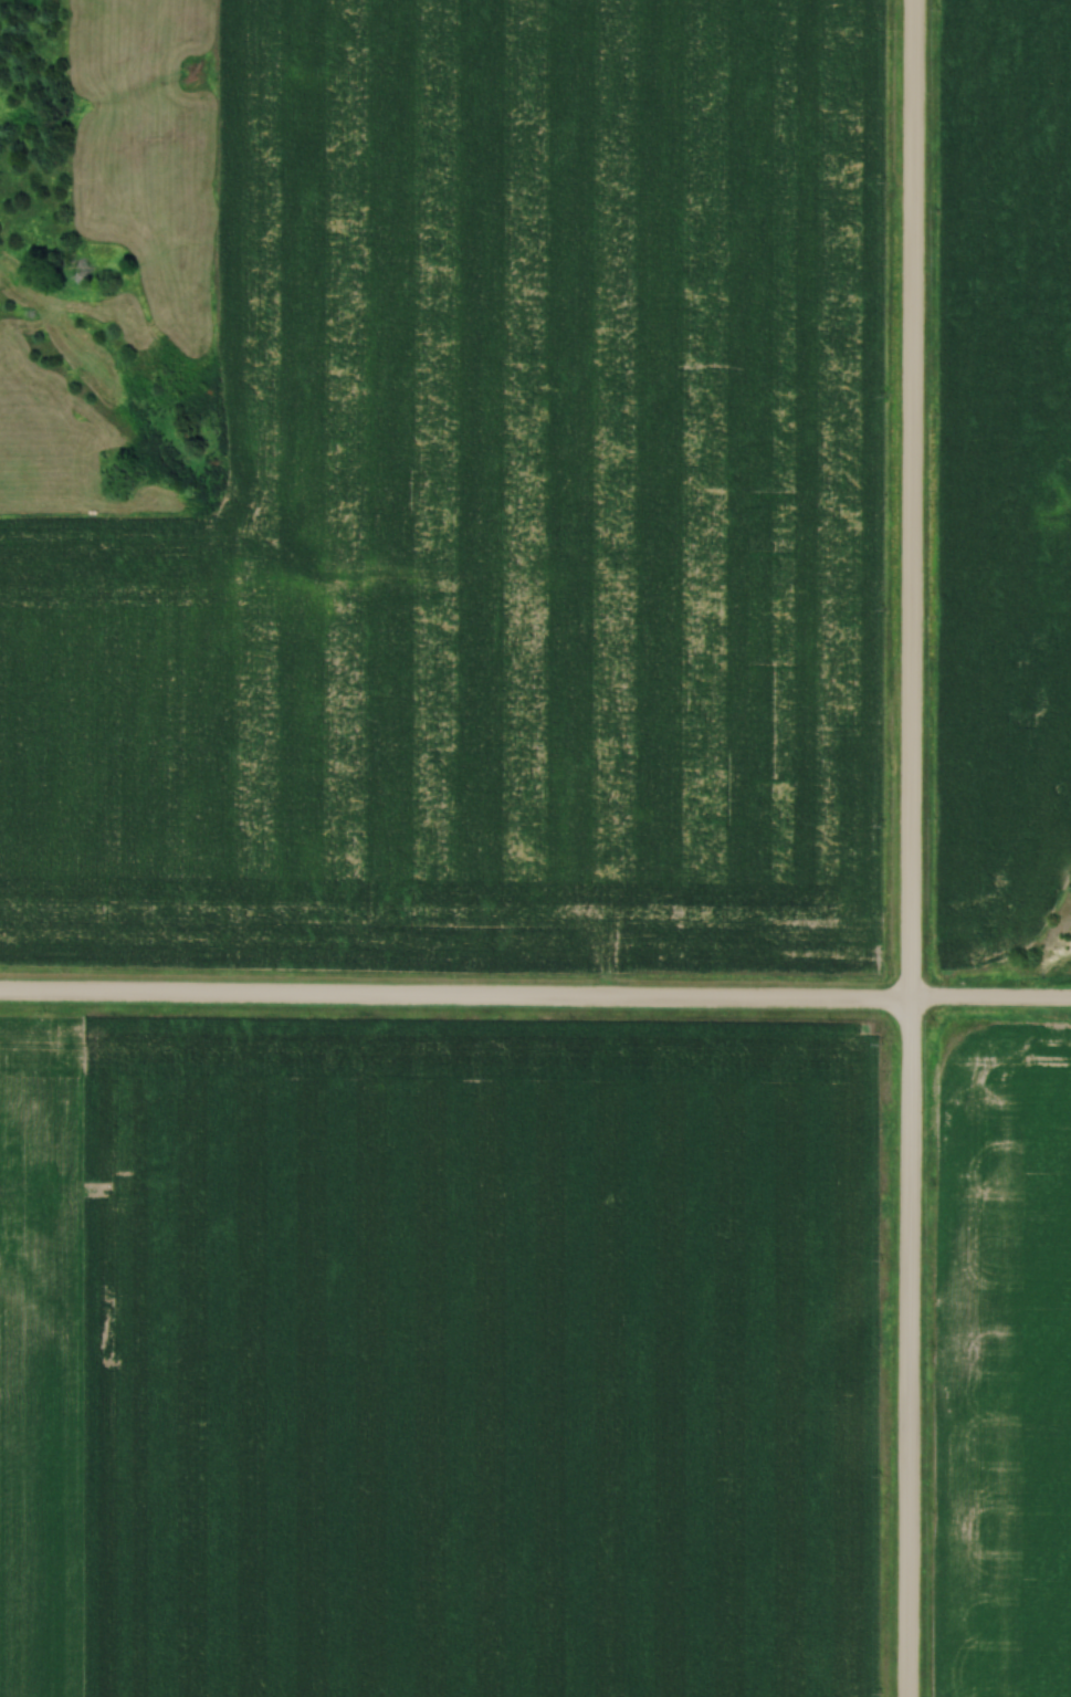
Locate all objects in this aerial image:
crop: (494, 517)
road: (906, 848)
road: (535, 998)
crop: (479, 1360)

